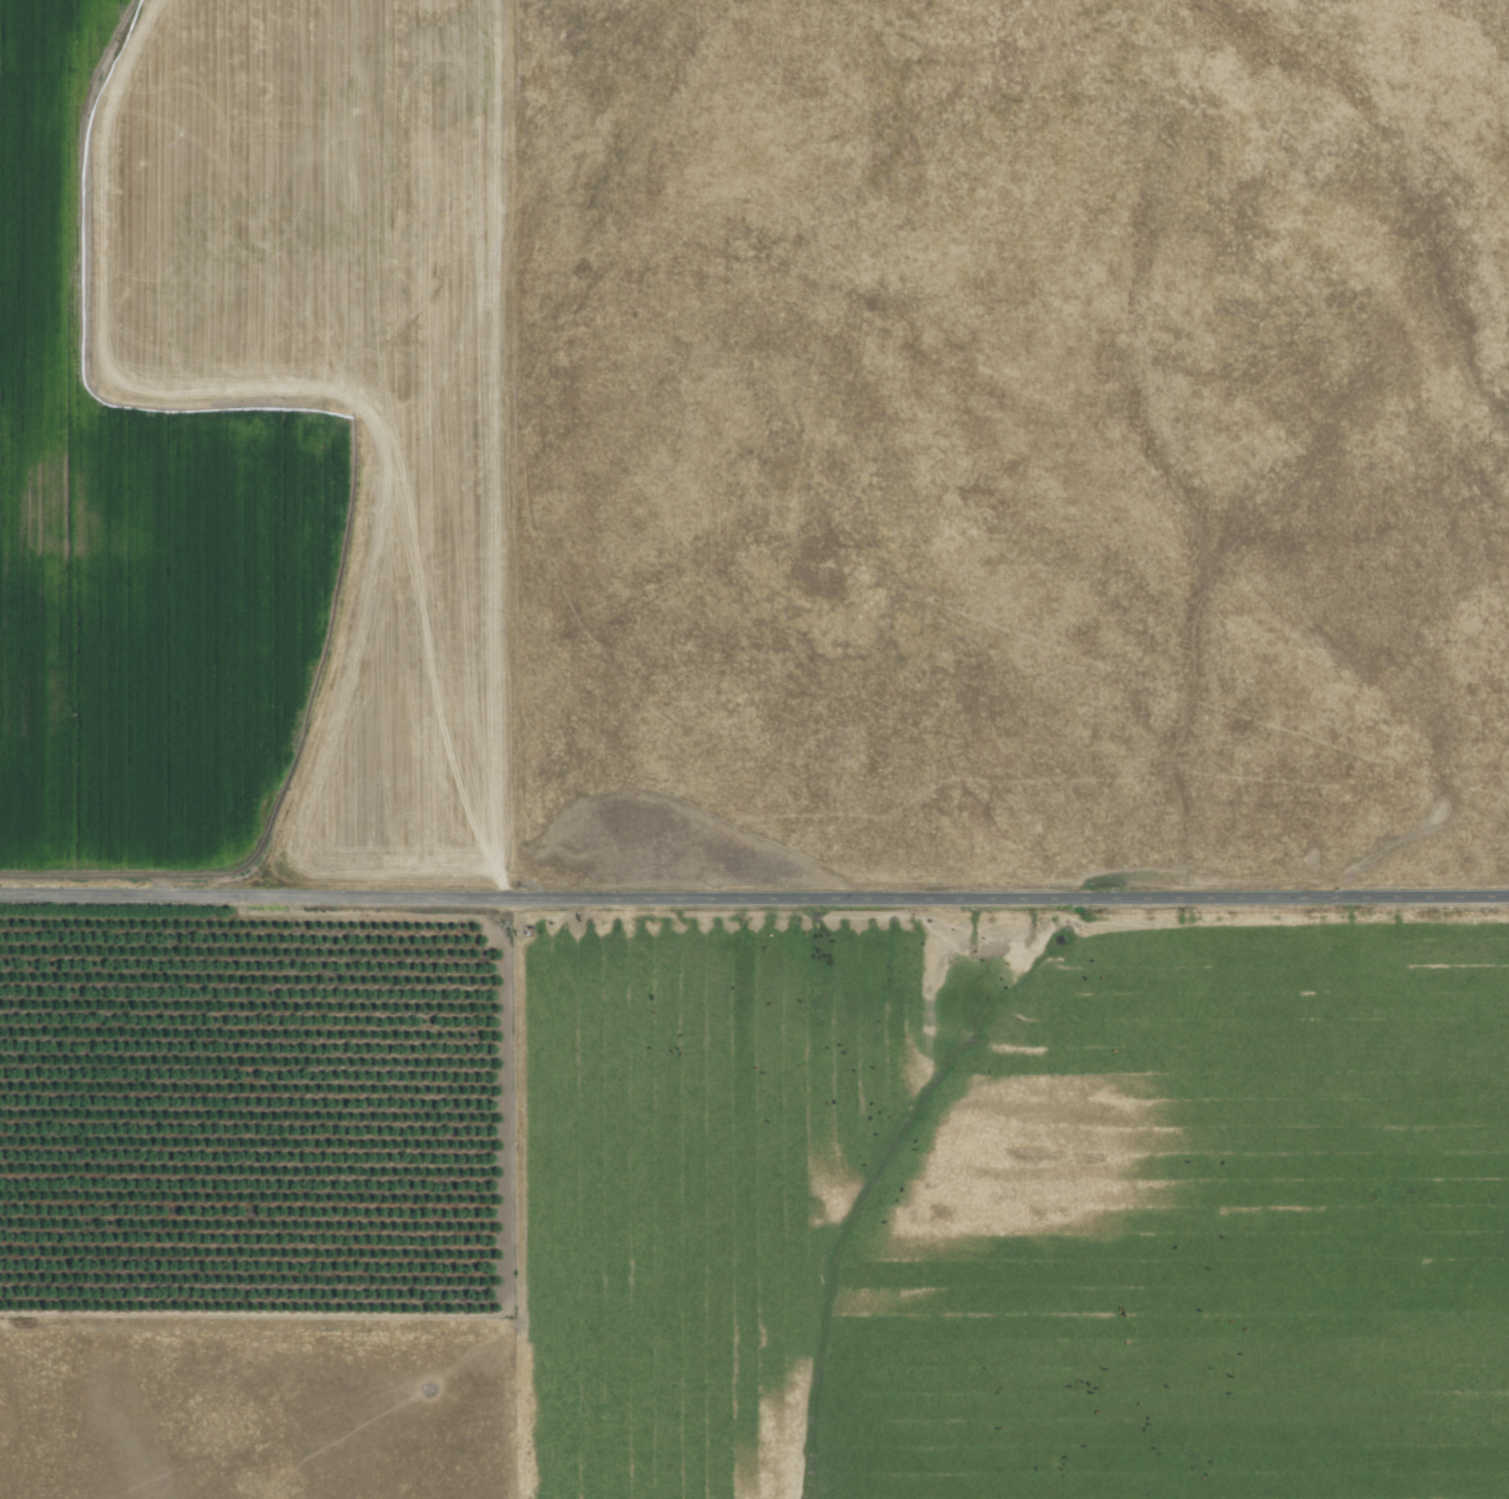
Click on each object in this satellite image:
road: (754, 898)

